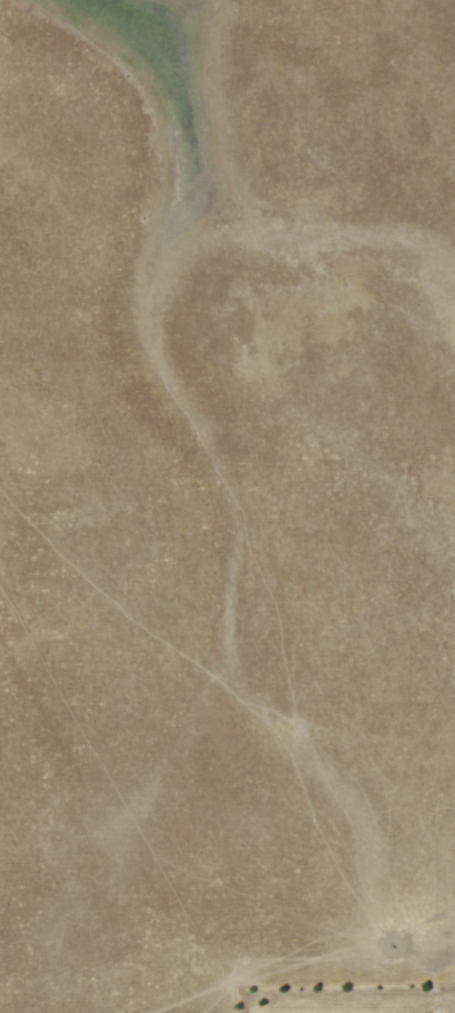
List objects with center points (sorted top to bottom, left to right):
crop: (123, 584)

